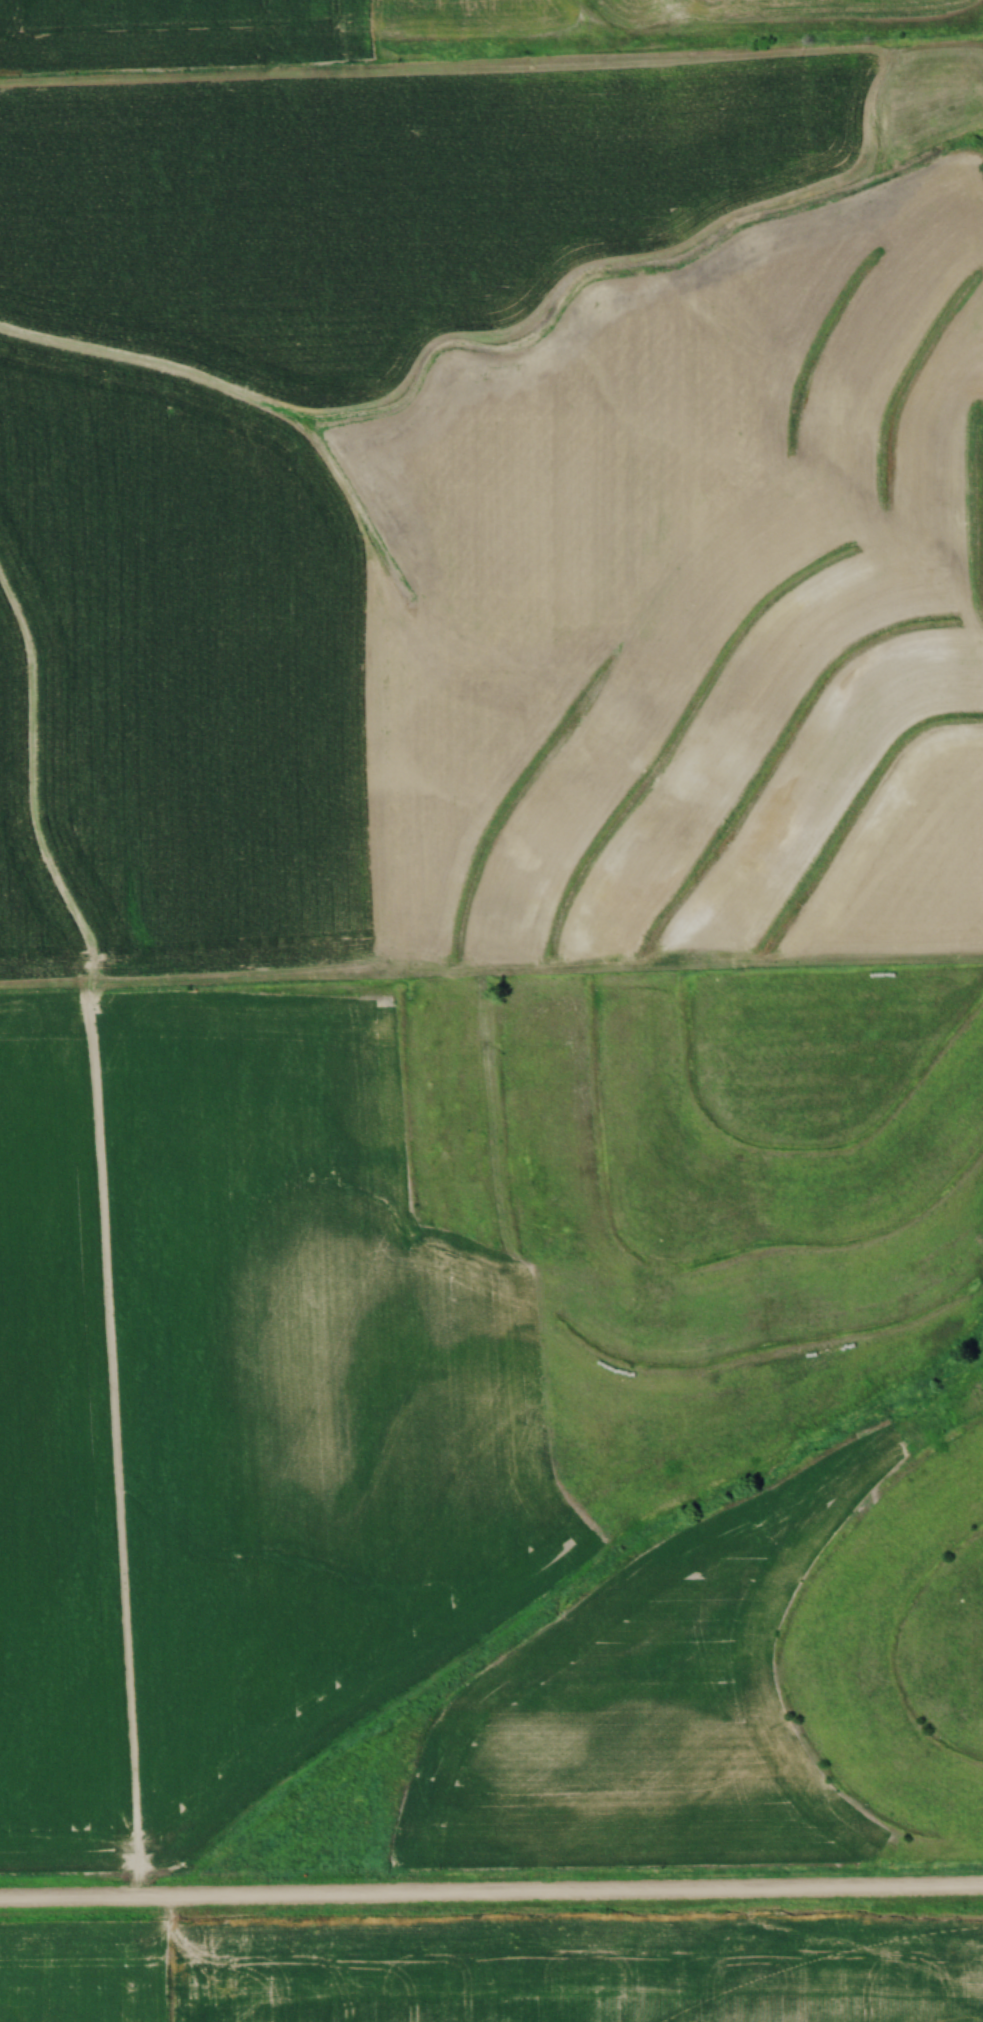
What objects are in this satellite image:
road: (491, 1895)

